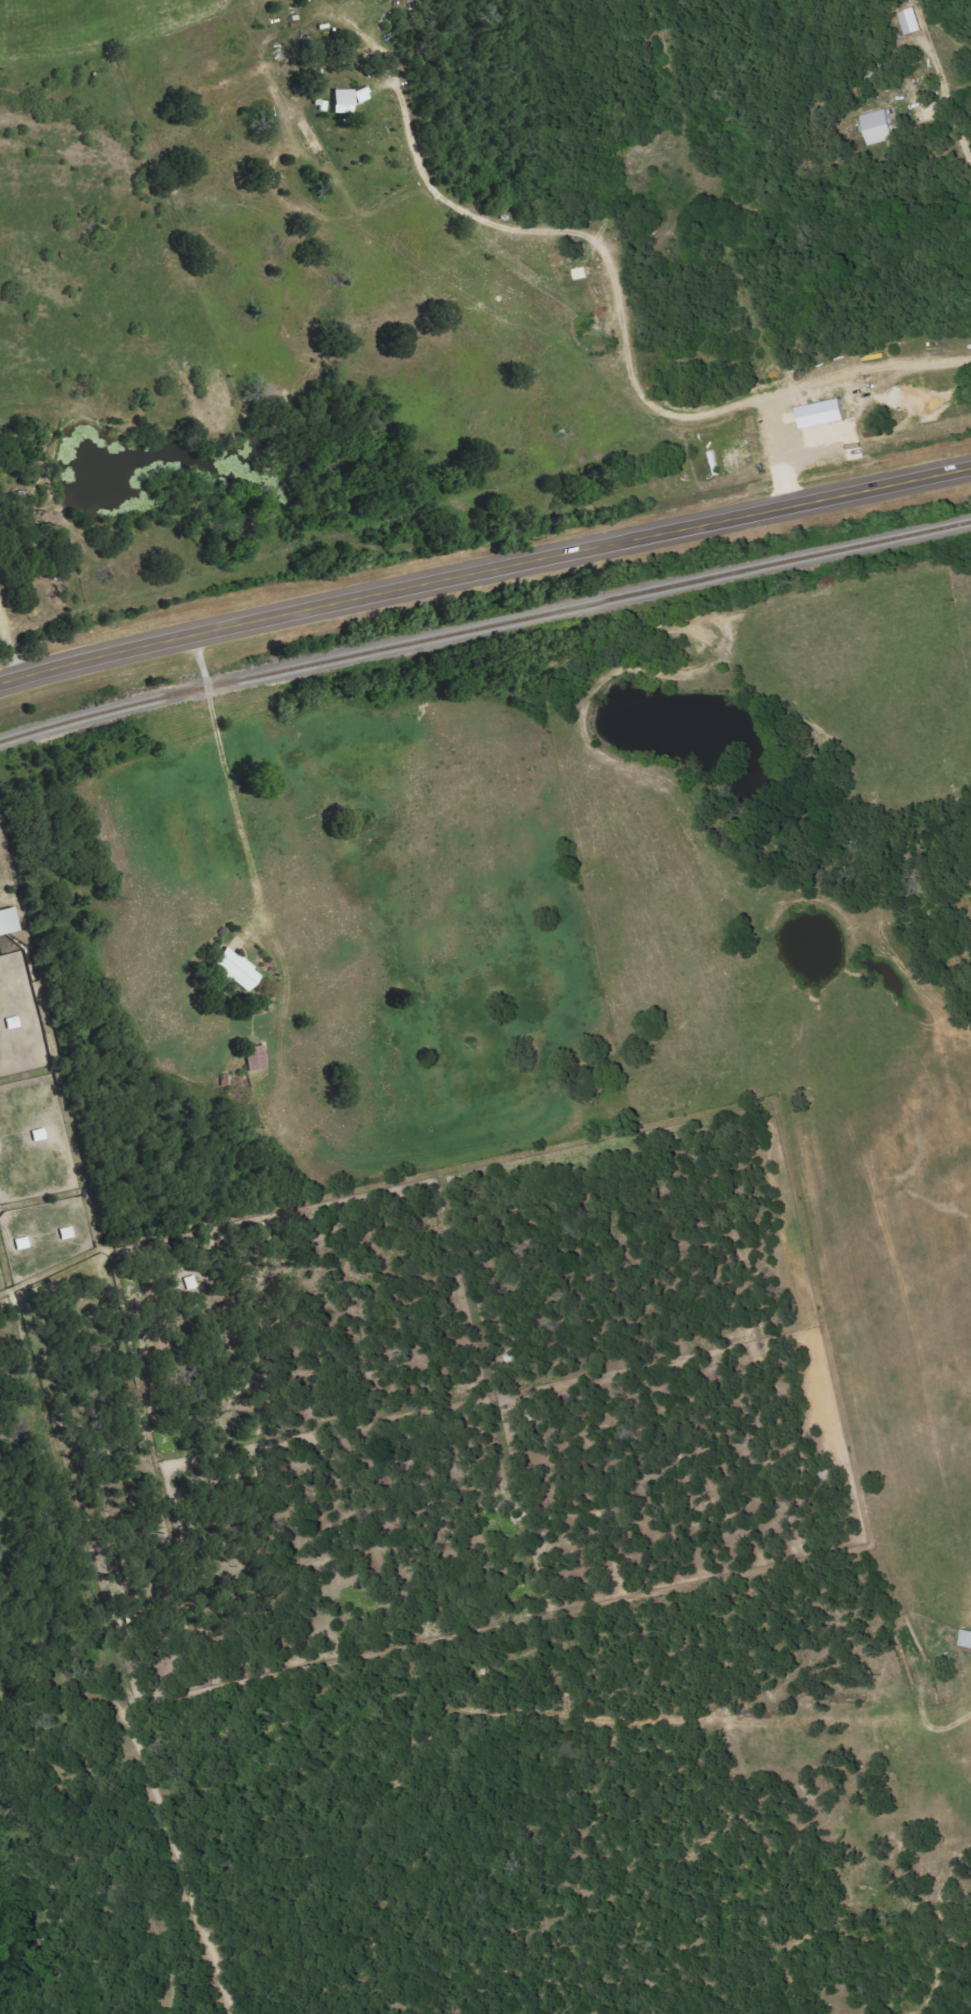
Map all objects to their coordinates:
building: (910, 22)
building: (351, 100)
building: (881, 128)
building: (317, 142)
building: (584, 274)
road: (484, 574)
railway: (484, 626)
road: (11, 648)
road: (229, 789)
building: (9, 921)
building: (240, 970)
building: (14, 1023)
building: (40, 1135)
building: (68, 1233)
building: (23, 1243)
building: (964, 1640)

